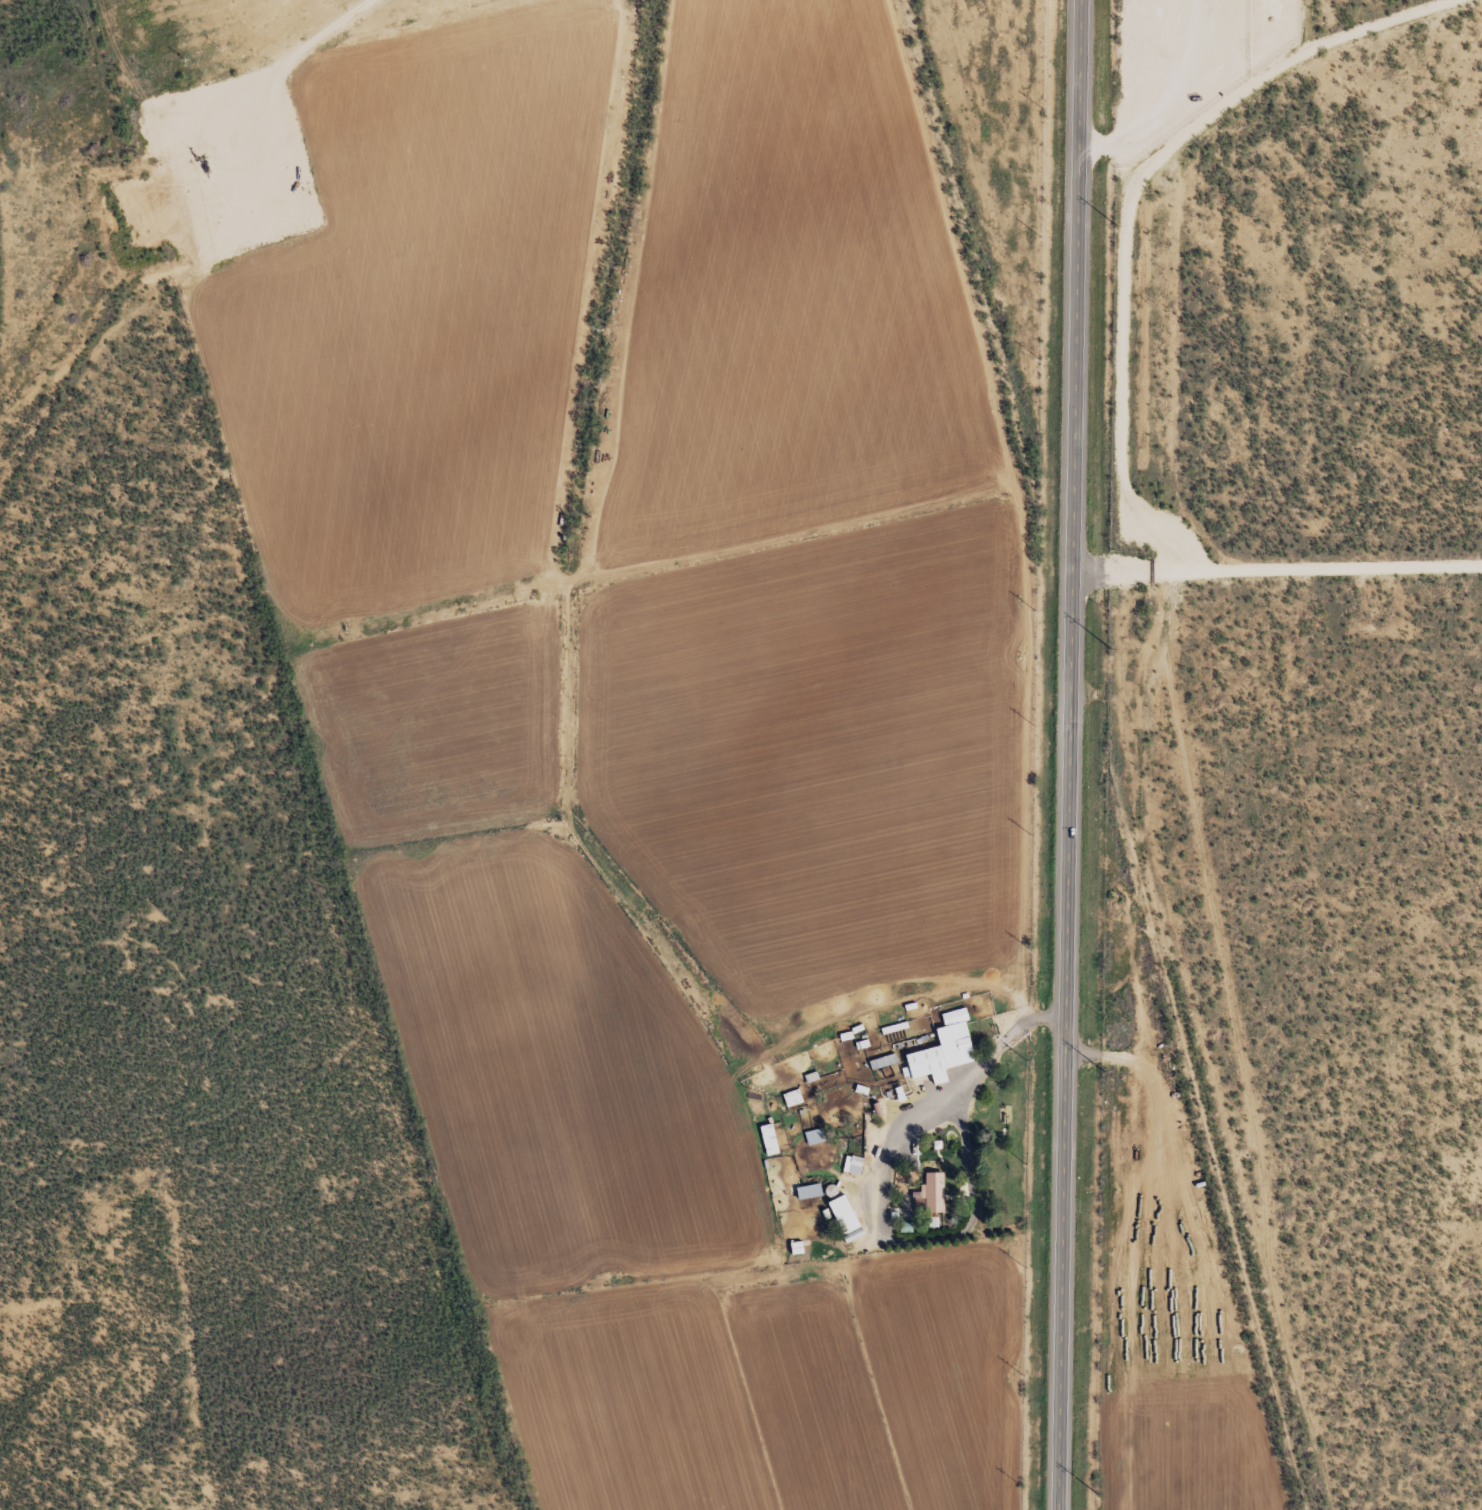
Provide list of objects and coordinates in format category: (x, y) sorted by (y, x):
power tower: (1117, 227)
power tower: (1111, 648)
road: (1072, 755)
building: (943, 1050)
building: (883, 1062)
power tower: (1106, 1072)
building: (769, 1140)
building: (853, 1165)
building: (810, 1191)
building: (931, 1195)
building: (847, 1218)
power tower: (1099, 1495)

